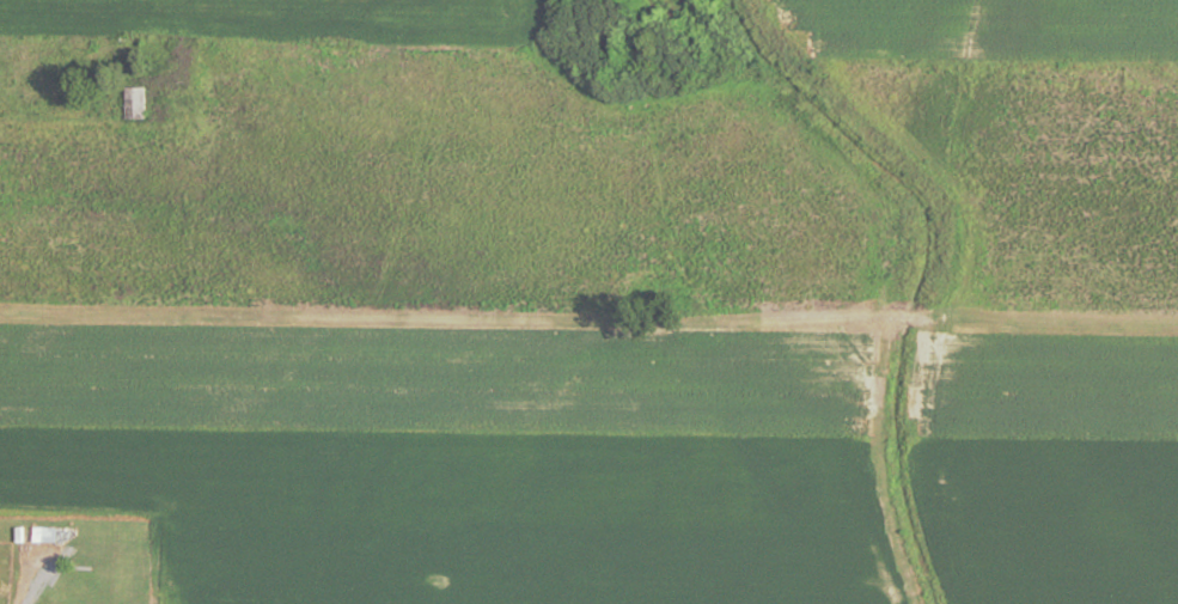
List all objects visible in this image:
building: (133, 105)
building: (42, 538)

